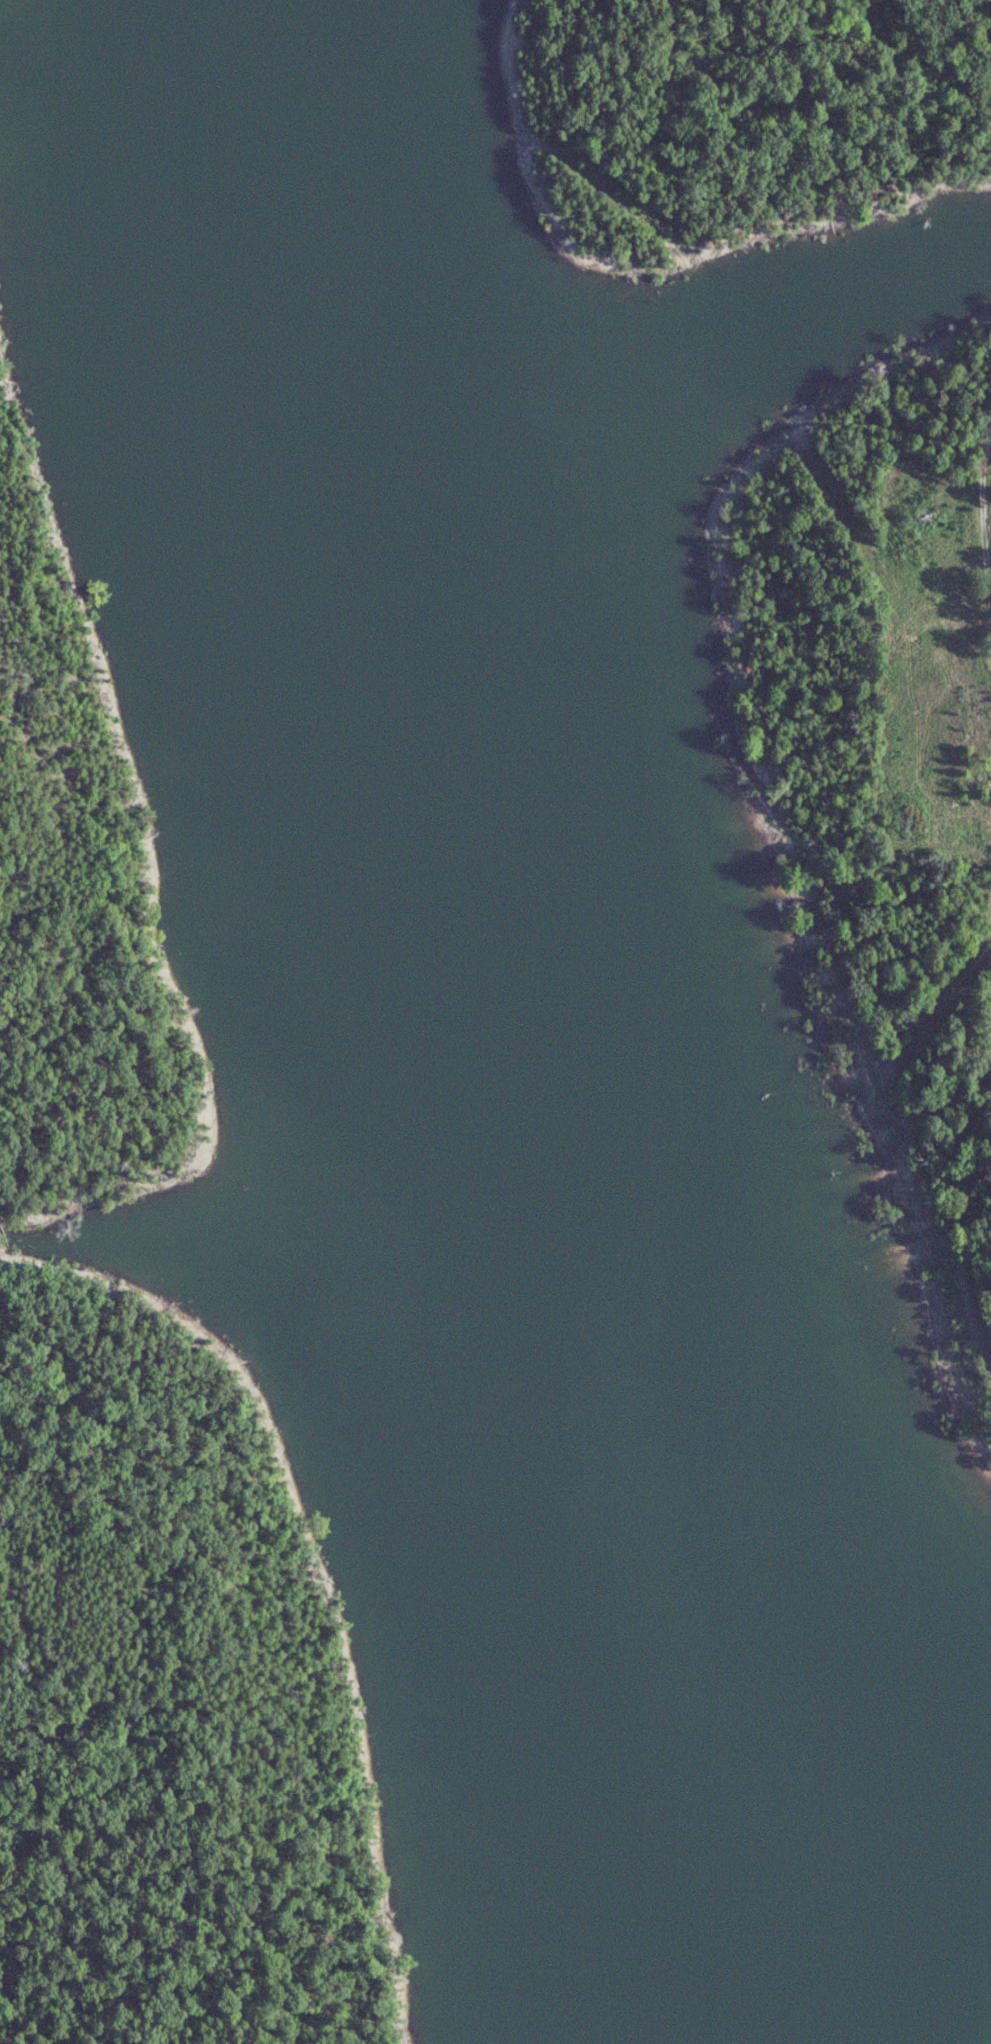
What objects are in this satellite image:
road: (981, 529)

